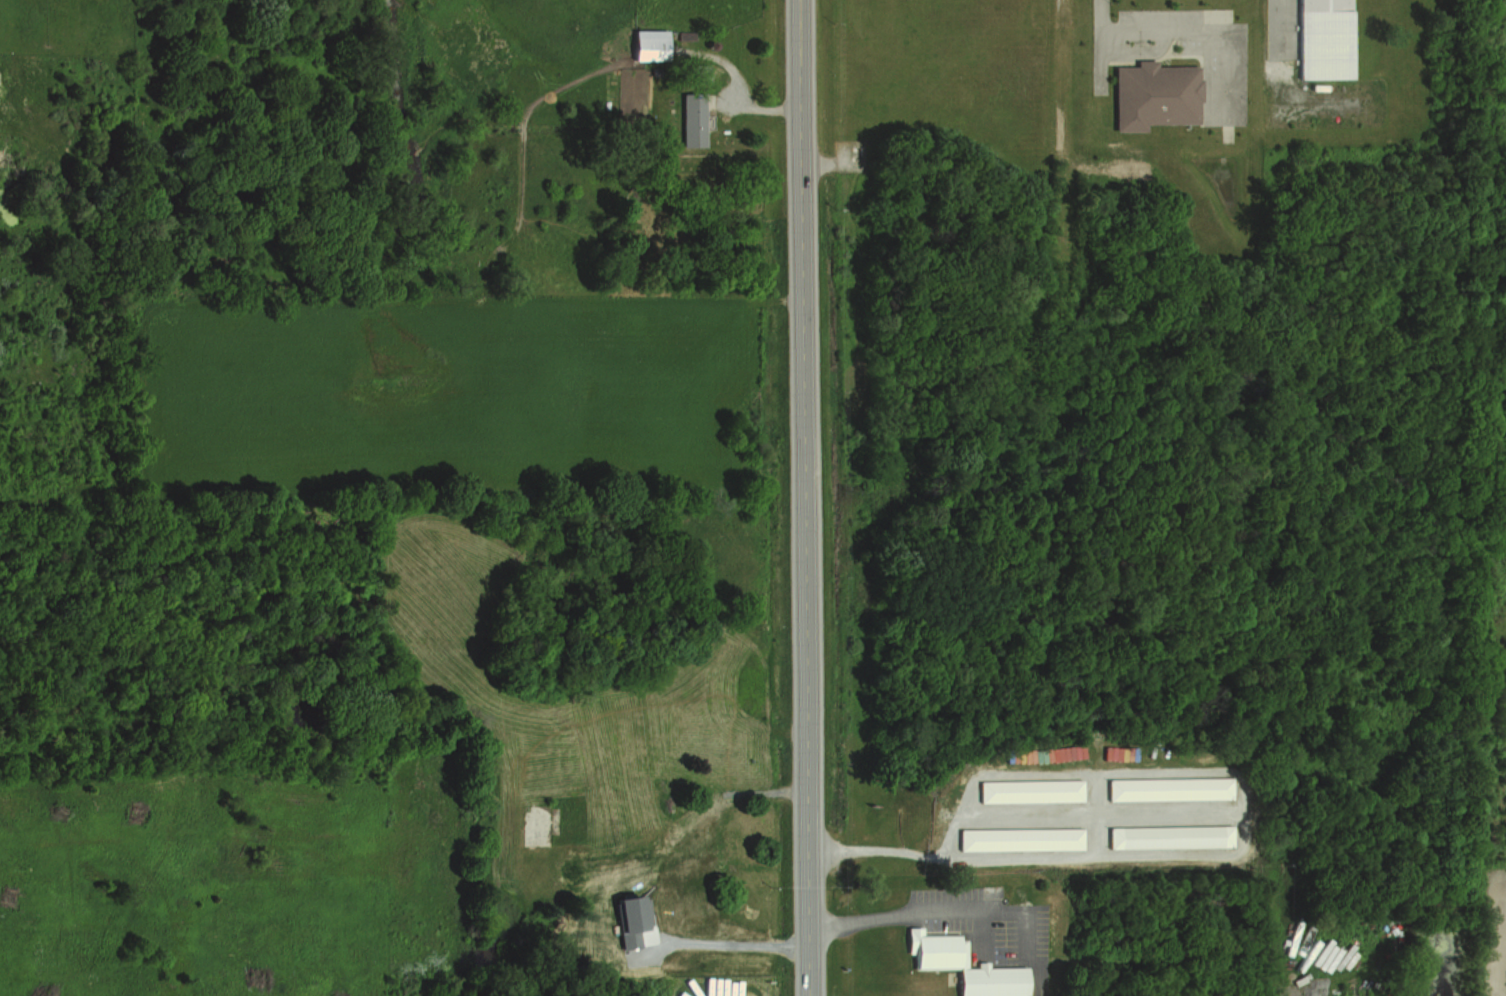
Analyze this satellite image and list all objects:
road: (1059, 9)
road: (1174, 30)
road: (1272, 35)
building: (1322, 40)
building: (645, 45)
building: (1155, 94)
building: (690, 121)
road: (802, 498)
building: (1167, 786)
building: (1027, 788)
building: (541, 825)
building: (1168, 836)
building: (1018, 838)
road: (879, 851)
road: (899, 910)
building: (631, 919)
road: (735, 946)
road: (1272, 947)
building: (931, 948)
road: (1498, 956)
building: (987, 981)

